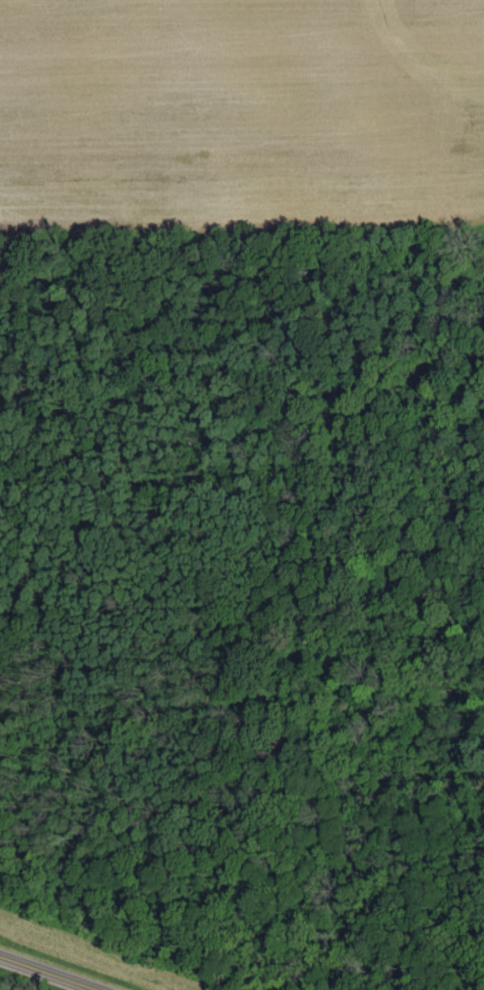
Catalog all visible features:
road: (44, 975)

